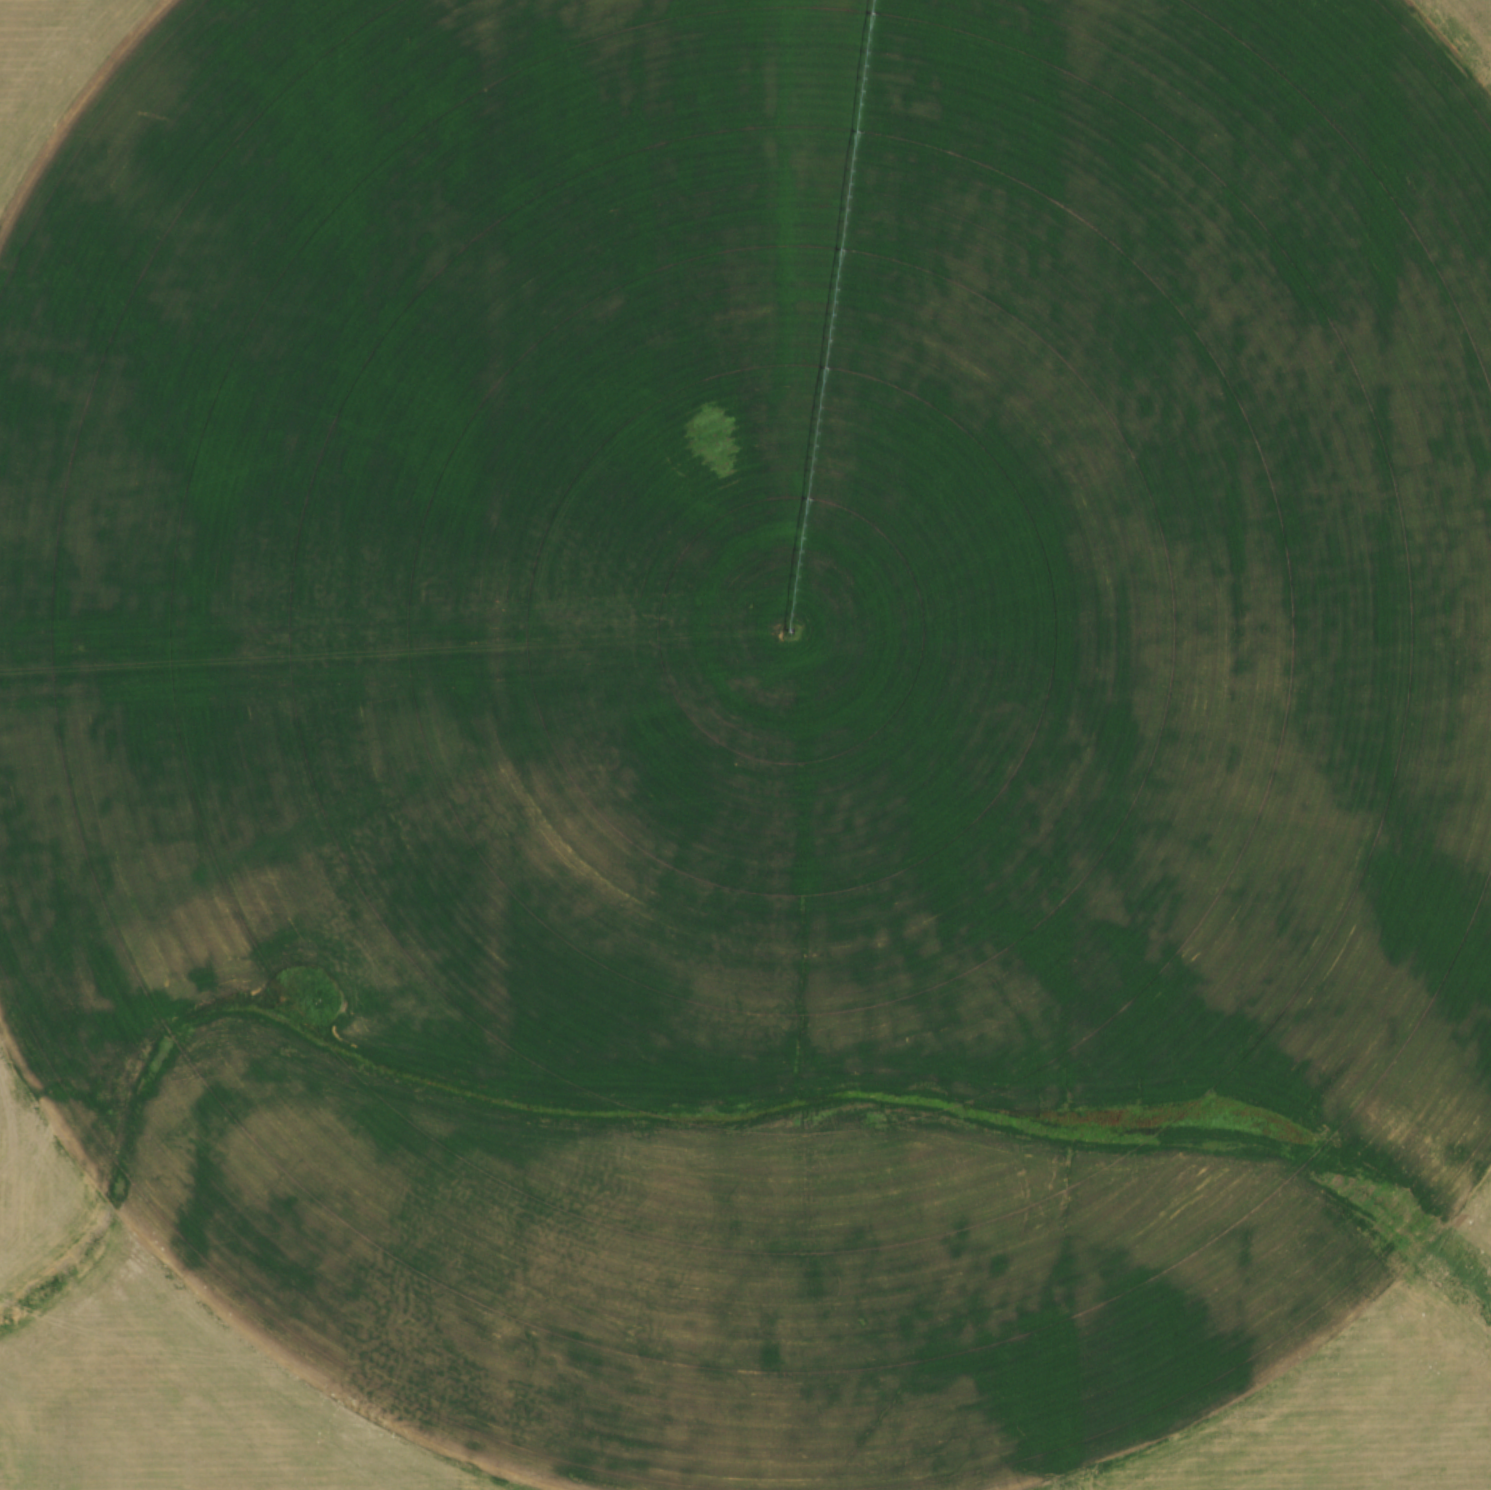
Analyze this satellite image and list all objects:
crop: (745, 745)

